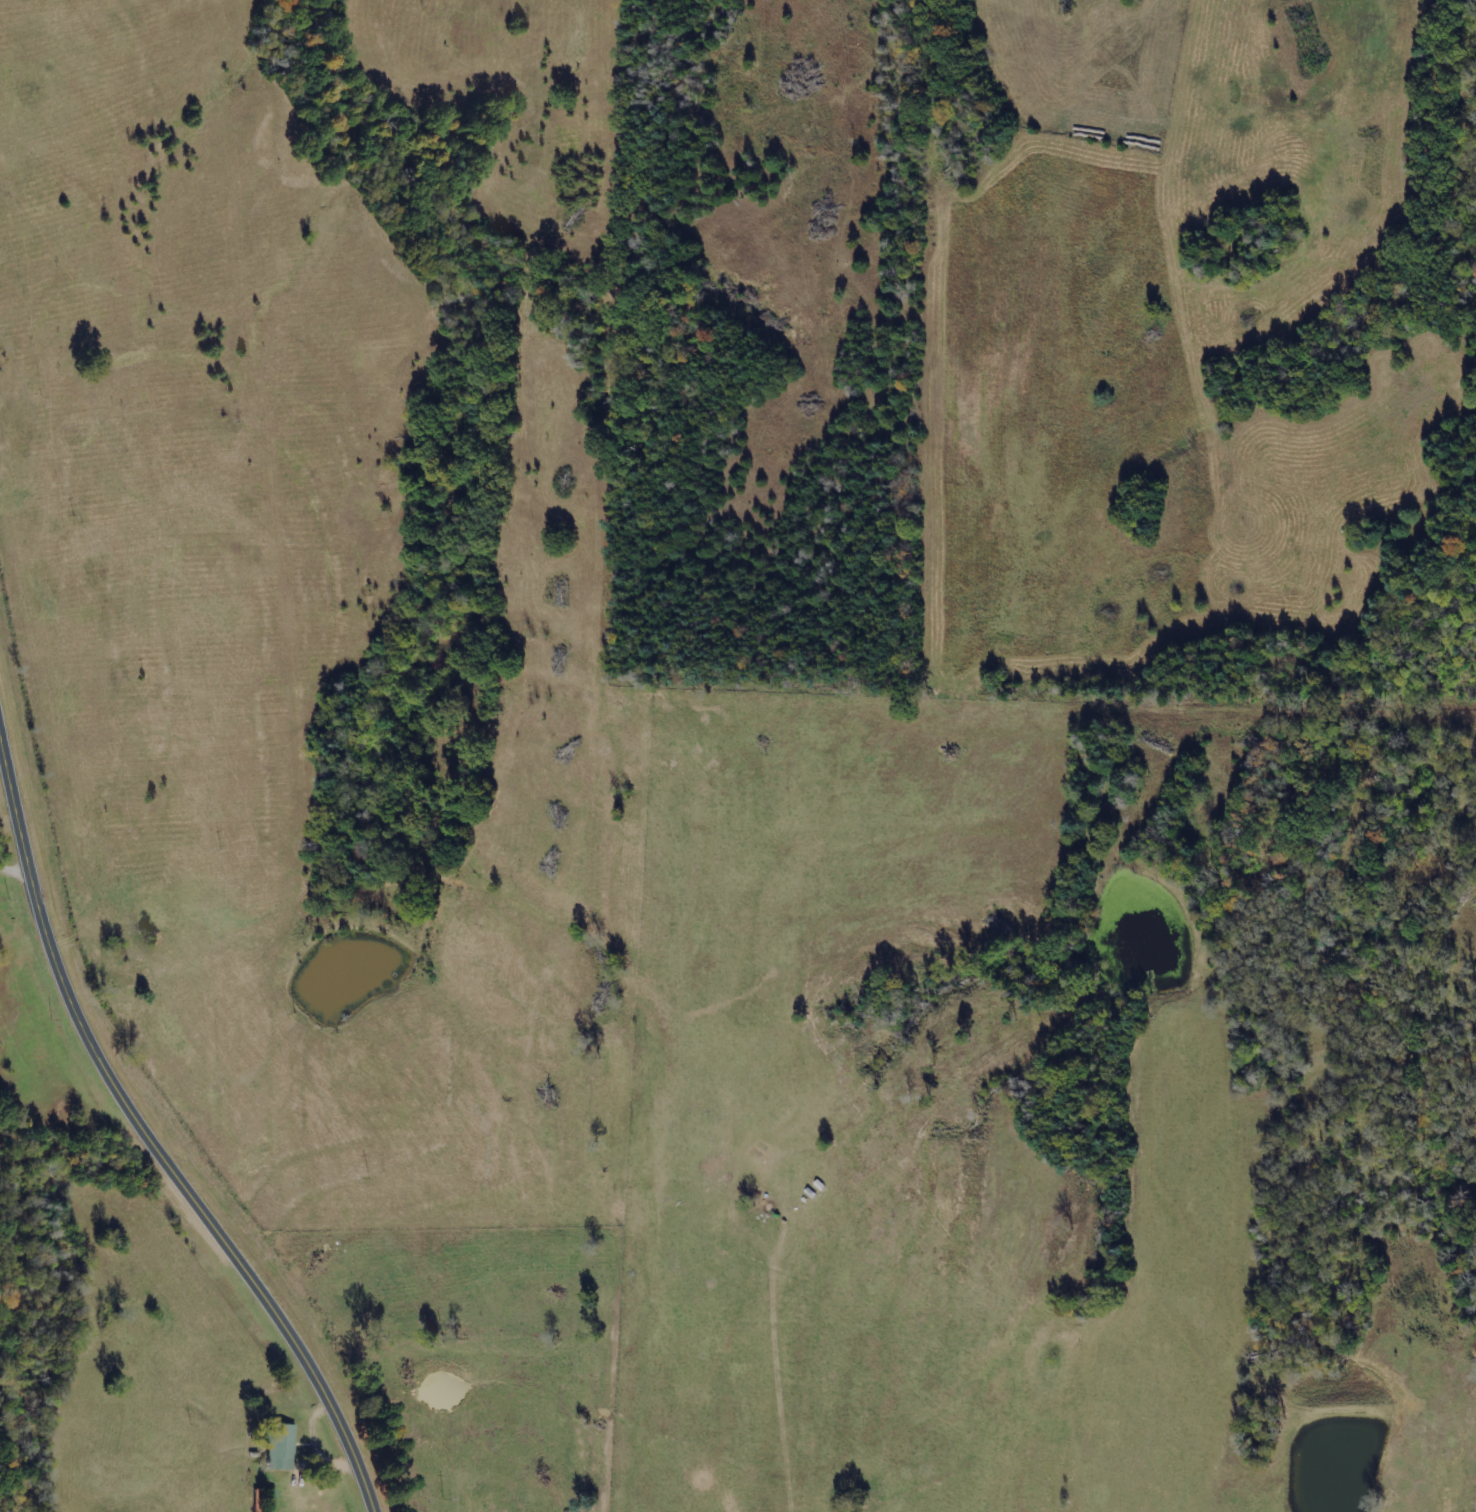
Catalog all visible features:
road: (17, 871)
road: (149, 1128)
building: (280, 1447)

